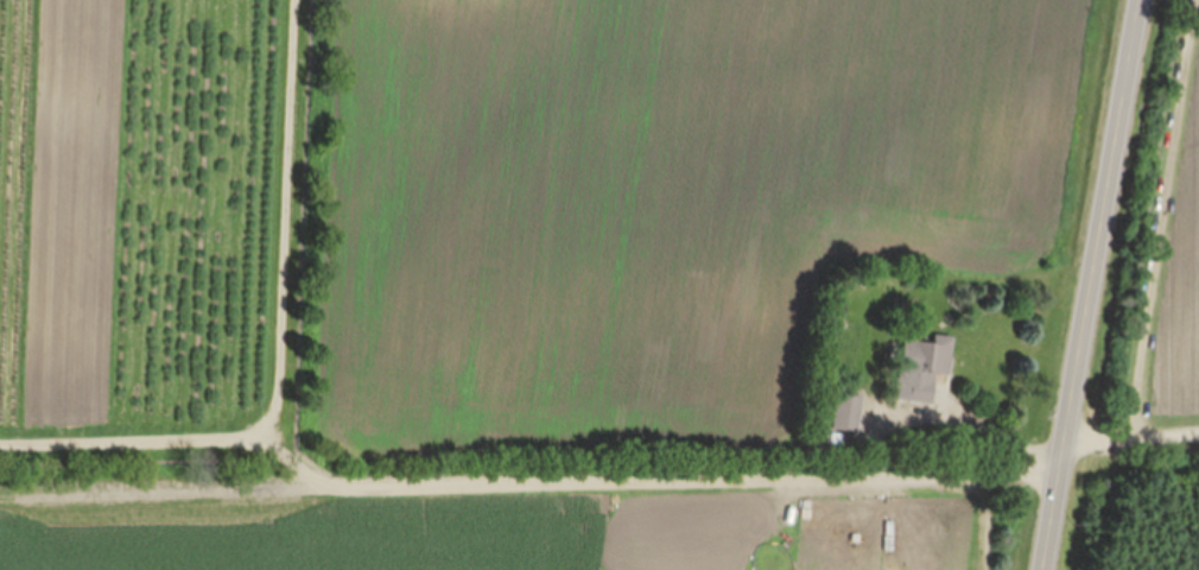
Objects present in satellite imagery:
road: (291, 217)
road: (1155, 220)
road: (1095, 285)
building: (927, 365)
building: (848, 410)
road: (975, 416)
road: (1134, 438)
road: (522, 483)

